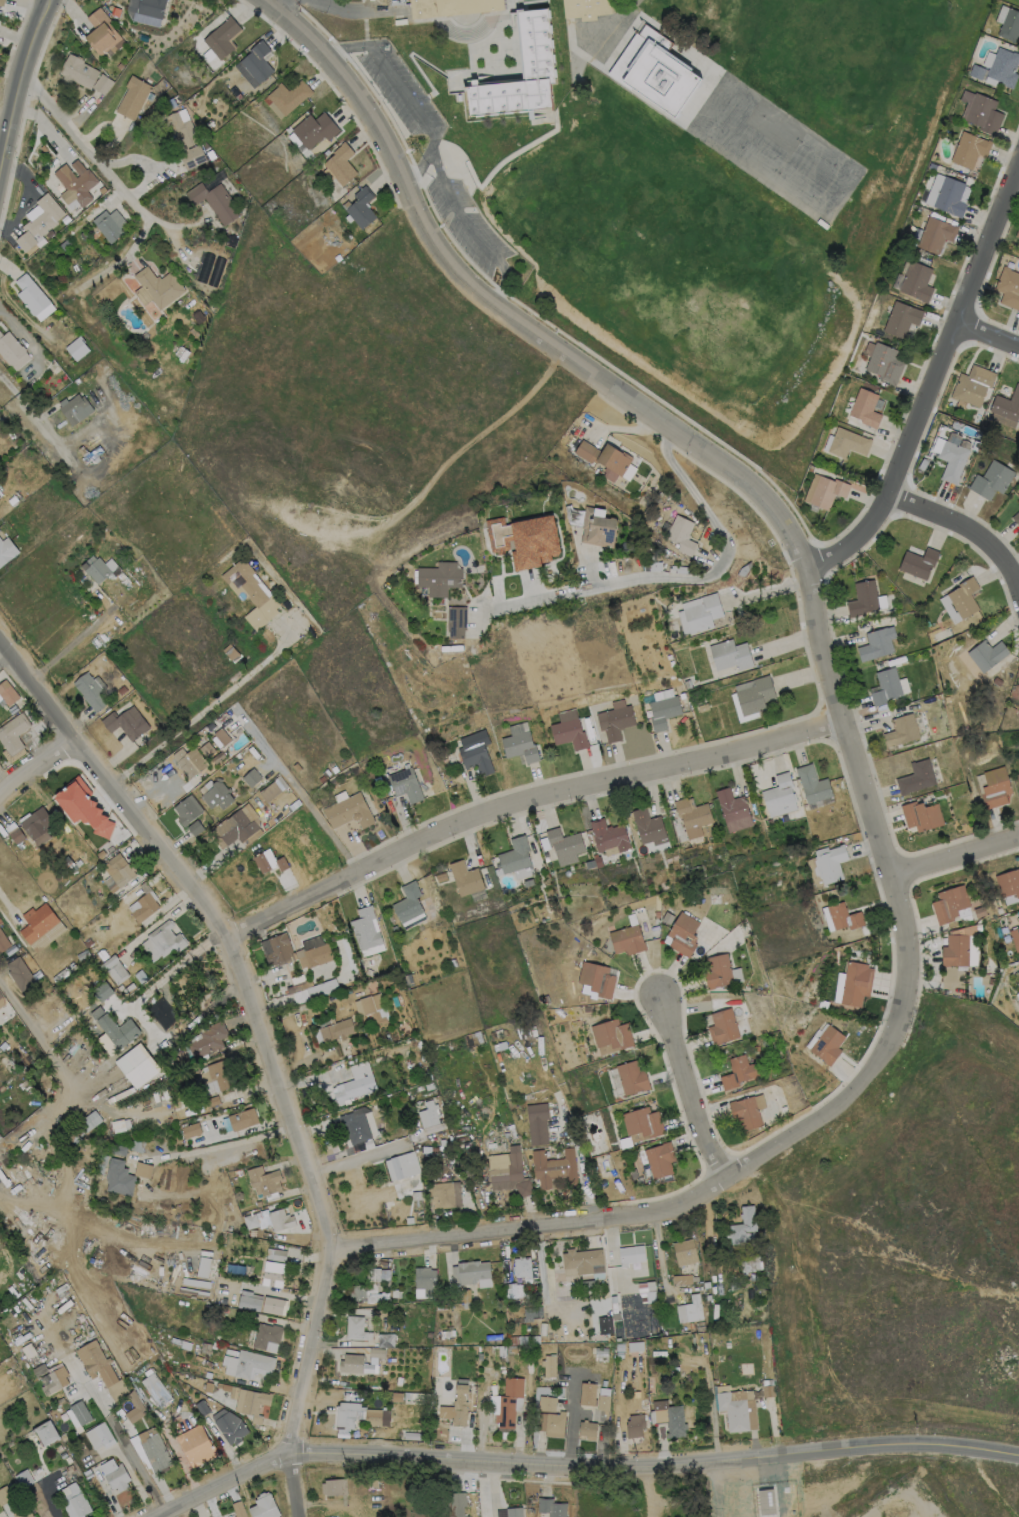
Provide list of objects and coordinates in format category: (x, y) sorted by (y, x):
building: (1, 3)
building: (108, 7)
building: (452, 7)
road: (43, 8)
road: (341, 8)
building: (588, 9)
building: (146, 11)
building: (1010, 26)
building: (101, 34)
building: (222, 38)
park: (833, 51)
building: (539, 59)
building: (254, 64)
building: (119, 65)
building: (1001, 67)
building: (77, 71)
building: (976, 71)
road: (21, 72)
building: (655, 73)
building: (102, 84)
building: (290, 97)
road: (406, 97)
building: (133, 98)
building: (497, 102)
building: (982, 111)
building: (314, 130)
building: (184, 137)
road: (88, 144)
building: (43, 148)
building: (969, 149)
building: (340, 165)
building: (933, 166)
building: (74, 184)
building: (950, 196)
building: (215, 202)
building: (89, 208)
building: (360, 208)
building: (39, 224)
building: (109, 224)
road: (471, 230)
building: (935, 234)
building: (1018, 235)
building: (64, 245)
park: (676, 254)
building: (916, 281)
building: (156, 288)
building: (1009, 288)
building: (32, 298)
road: (505, 312)
building: (901, 319)
road: (21, 333)
road: (989, 337)
building: (9, 348)
building: (76, 349)
building: (884, 362)
road: (936, 385)
building: (972, 385)
road: (24, 404)
building: (1007, 406)
building: (865, 408)
building: (74, 410)
building: (847, 443)
building: (81, 451)
building: (604, 457)
building: (951, 459)
building: (810, 468)
building: (598, 472)
building: (991, 479)
building: (824, 491)
building: (1018, 497)
building: (11, 501)
building: (1016, 519)
road: (964, 526)
building: (597, 528)
building: (681, 535)
building: (523, 540)
building: (6, 550)
building: (917, 562)
building: (744, 569)
building: (98, 572)
building: (439, 578)
road: (685, 579)
building: (250, 593)
building: (862, 597)
building: (963, 597)
building: (699, 614)
building: (455, 622)
building: (876, 642)
road: (71, 643)
building: (230, 653)
building: (986, 654)
building: (730, 655)
building: (996, 680)
building: (686, 685)
building: (885, 685)
building: (121, 690)
building: (7, 692)
building: (90, 692)
building: (938, 696)
building: (752, 697)
building: (703, 707)
building: (662, 709)
road: (199, 712)
building: (614, 720)
road: (845, 722)
building: (124, 723)
building: (901, 729)
building: (567, 731)
building: (13, 732)
building: (220, 737)
building: (519, 748)
building: (475, 753)
building: (187, 762)
road: (35, 768)
building: (251, 777)
building: (916, 777)
building: (1018, 777)
building: (812, 784)
building: (404, 785)
building: (994, 787)
road: (299, 794)
building: (215, 796)
building: (779, 796)
road: (530, 801)
building: (83, 804)
building: (293, 805)
building: (732, 809)
building: (186, 810)
building: (347, 813)
building: (921, 815)
building: (691, 816)
building: (38, 824)
building: (646, 825)
building: (193, 828)
building: (236, 828)
building: (16, 833)
building: (607, 835)
building: (813, 839)
building: (563, 843)
road: (954, 854)
building: (513, 855)
building: (829, 862)
building: (259, 863)
building: (280, 864)
building: (118, 871)
building: (464, 877)
building: (1009, 884)
building: (407, 901)
building: (948, 902)
building: (144, 905)
building: (656, 914)
building: (843, 916)
building: (666, 917)
building: (41, 925)
building: (365, 928)
building: (682, 933)
building: (626, 938)
building: (1015, 939)
building: (163, 940)
building: (3, 941)
building: (88, 941)
building: (278, 949)
building: (954, 950)
building: (312, 951)
building: (83, 954)
building: (109, 960)
road: (171, 969)
building: (716, 970)
building: (64, 971)
building: (118, 971)
building: (22, 974)
building: (140, 975)
building: (596, 978)
building: (855, 983)
building: (838, 987)
building: (103, 990)
building: (1017, 994)
building: (1, 999)
building: (371, 1007)
building: (585, 1008)
building: (97, 1011)
building: (163, 1013)
building: (722, 1025)
building: (118, 1029)
building: (336, 1029)
building: (611, 1033)
building: (209, 1039)
road: (265, 1042)
building: (827, 1044)
building: (137, 1063)
building: (737, 1071)
road: (59, 1072)
building: (216, 1076)
building: (630, 1076)
road: (688, 1086)
building: (2, 1087)
building: (354, 1087)
building: (744, 1111)
building: (427, 1114)
building: (243, 1118)
building: (642, 1121)
building: (535, 1124)
building: (353, 1125)
building: (82, 1127)
building: (191, 1129)
building: (138, 1143)
road: (213, 1147)
building: (351, 1149)
building: (185, 1159)
building: (658, 1159)
road: (355, 1160)
building: (400, 1166)
building: (553, 1167)
building: (144, 1169)
building: (158, 1171)
building: (506, 1171)
building: (119, 1177)
building: (265, 1179)
road: (714, 1184)
building: (522, 1188)
building: (238, 1194)
building: (443, 1195)
building: (415, 1196)
building: (281, 1219)
building: (252, 1220)
building: (743, 1225)
building: (685, 1251)
building: (276, 1253)
building: (631, 1253)
building: (582, 1261)
road: (3, 1263)
building: (751, 1263)
building: (205, 1266)
building: (522, 1266)
building: (470, 1270)
building: (274, 1273)
building: (425, 1278)
building: (681, 1278)
building: (587, 1283)
building: (646, 1285)
building: (514, 1289)
building: (363, 1293)
building: (466, 1294)
building: (223, 1299)
building: (250, 1300)
road: (807, 1302)
building: (274, 1304)
building: (690, 1309)
building: (617, 1315)
building: (605, 1324)
building: (356, 1327)
building: (267, 1335)
building: (385, 1338)
building: (629, 1340)
building: (180, 1342)
building: (578, 1345)
building: (594, 1346)
building: (206, 1347)
building: (512, 1347)
building: (376, 1351)
building: (97, 1362)
building: (351, 1362)
building: (248, 1363)
building: (549, 1365)
building: (40, 1369)
building: (58, 1378)
building: (229, 1386)
building: (209, 1387)
building: (156, 1389)
building: (768, 1390)
building: (588, 1392)
building: (396, 1395)
building: (604, 1398)
building: (509, 1401)
building: (252, 1402)
building: (457, 1406)
building: (135, 1407)
building: (203, 1407)
building: (737, 1407)
building: (80, 1412)
building: (346, 1413)
building: (374, 1415)
building: (550, 1416)
building: (669, 1416)
road: (571, 1418)
building: (635, 1424)
building: (230, 1425)
building: (588, 1428)
building: (46, 1431)
building: (100, 1435)
road: (120, 1437)
building: (197, 1445)
building: (59, 1448)
building: (151, 1451)
building: (63, 1454)
road: (653, 1459)
building: (69, 1468)
building: (90, 1473)
building: (115, 1474)
building: (24, 1478)
road: (221, 1483)
building: (334, 1485)
road: (729, 1486)
building: (761, 1493)
building: (3, 1496)
road: (47, 1500)
building: (74, 1501)
building: (455, 1504)
building: (264, 1506)
building: (551, 1507)
building: (238, 1509)
building: (513, 1512)
building: (23, 1513)

